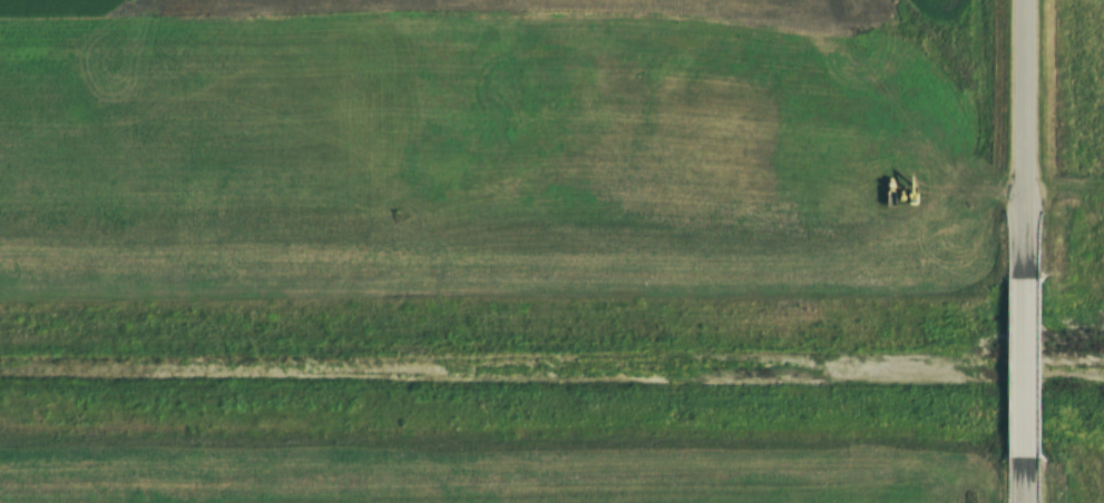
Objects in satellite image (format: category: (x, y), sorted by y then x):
road: (1028, 66)
road: (1027, 317)

